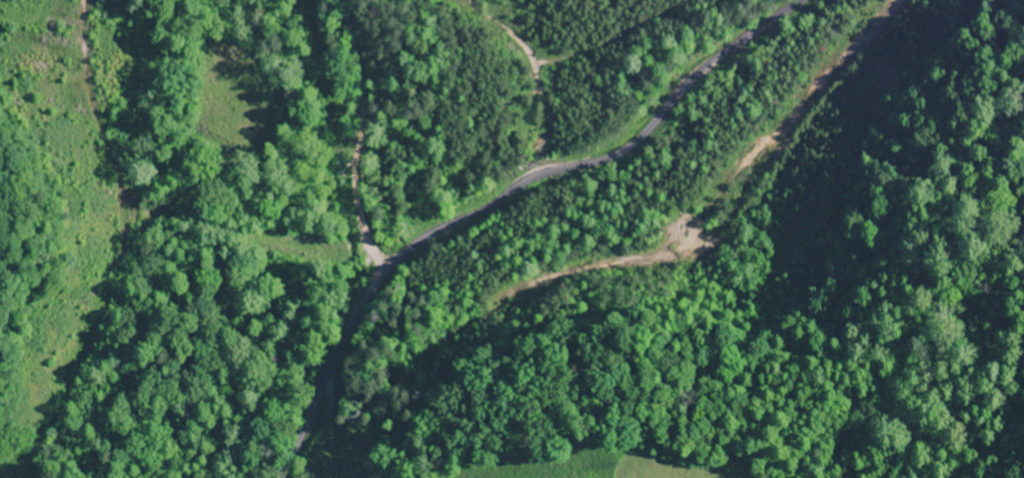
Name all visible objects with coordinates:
road: (353, 137)
road: (497, 200)

